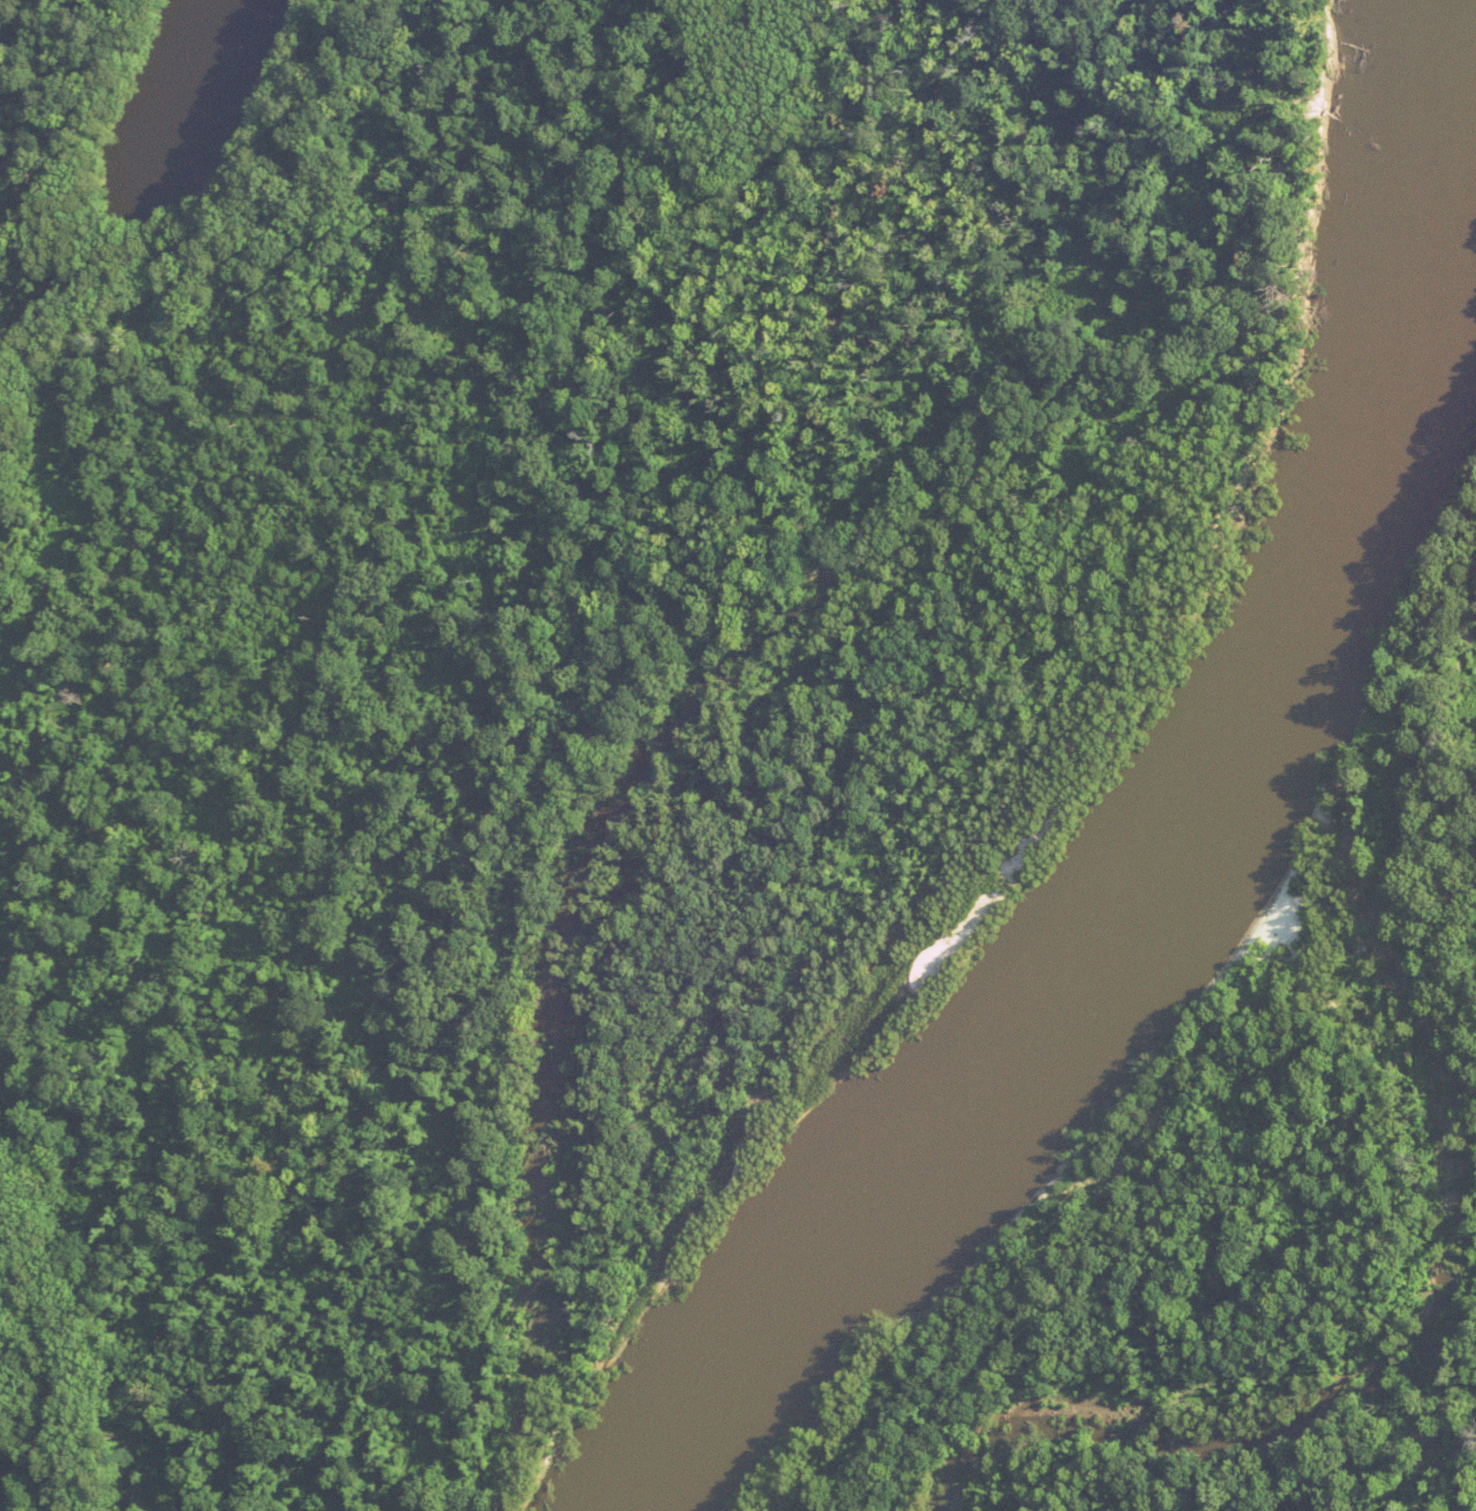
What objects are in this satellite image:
river: (1190, 826)

